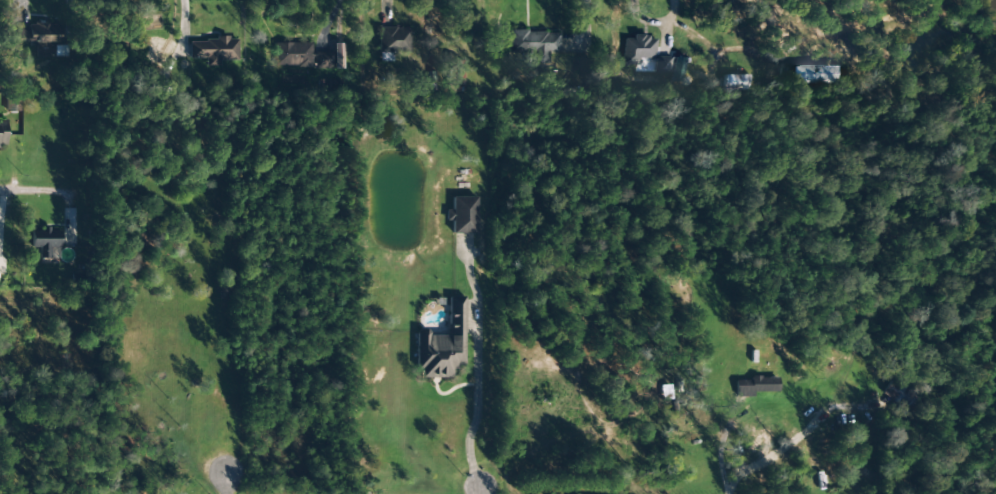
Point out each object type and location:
building: (39, 36)
building: (393, 41)
building: (535, 44)
building: (213, 50)
building: (645, 53)
building: (455, 73)
building: (815, 74)
building: (739, 82)
building: (1, 133)
road: (28, 178)
building: (462, 215)
building: (45, 240)
building: (442, 344)
building: (755, 386)
building: (901, 394)
road: (222, 483)
road: (476, 491)

